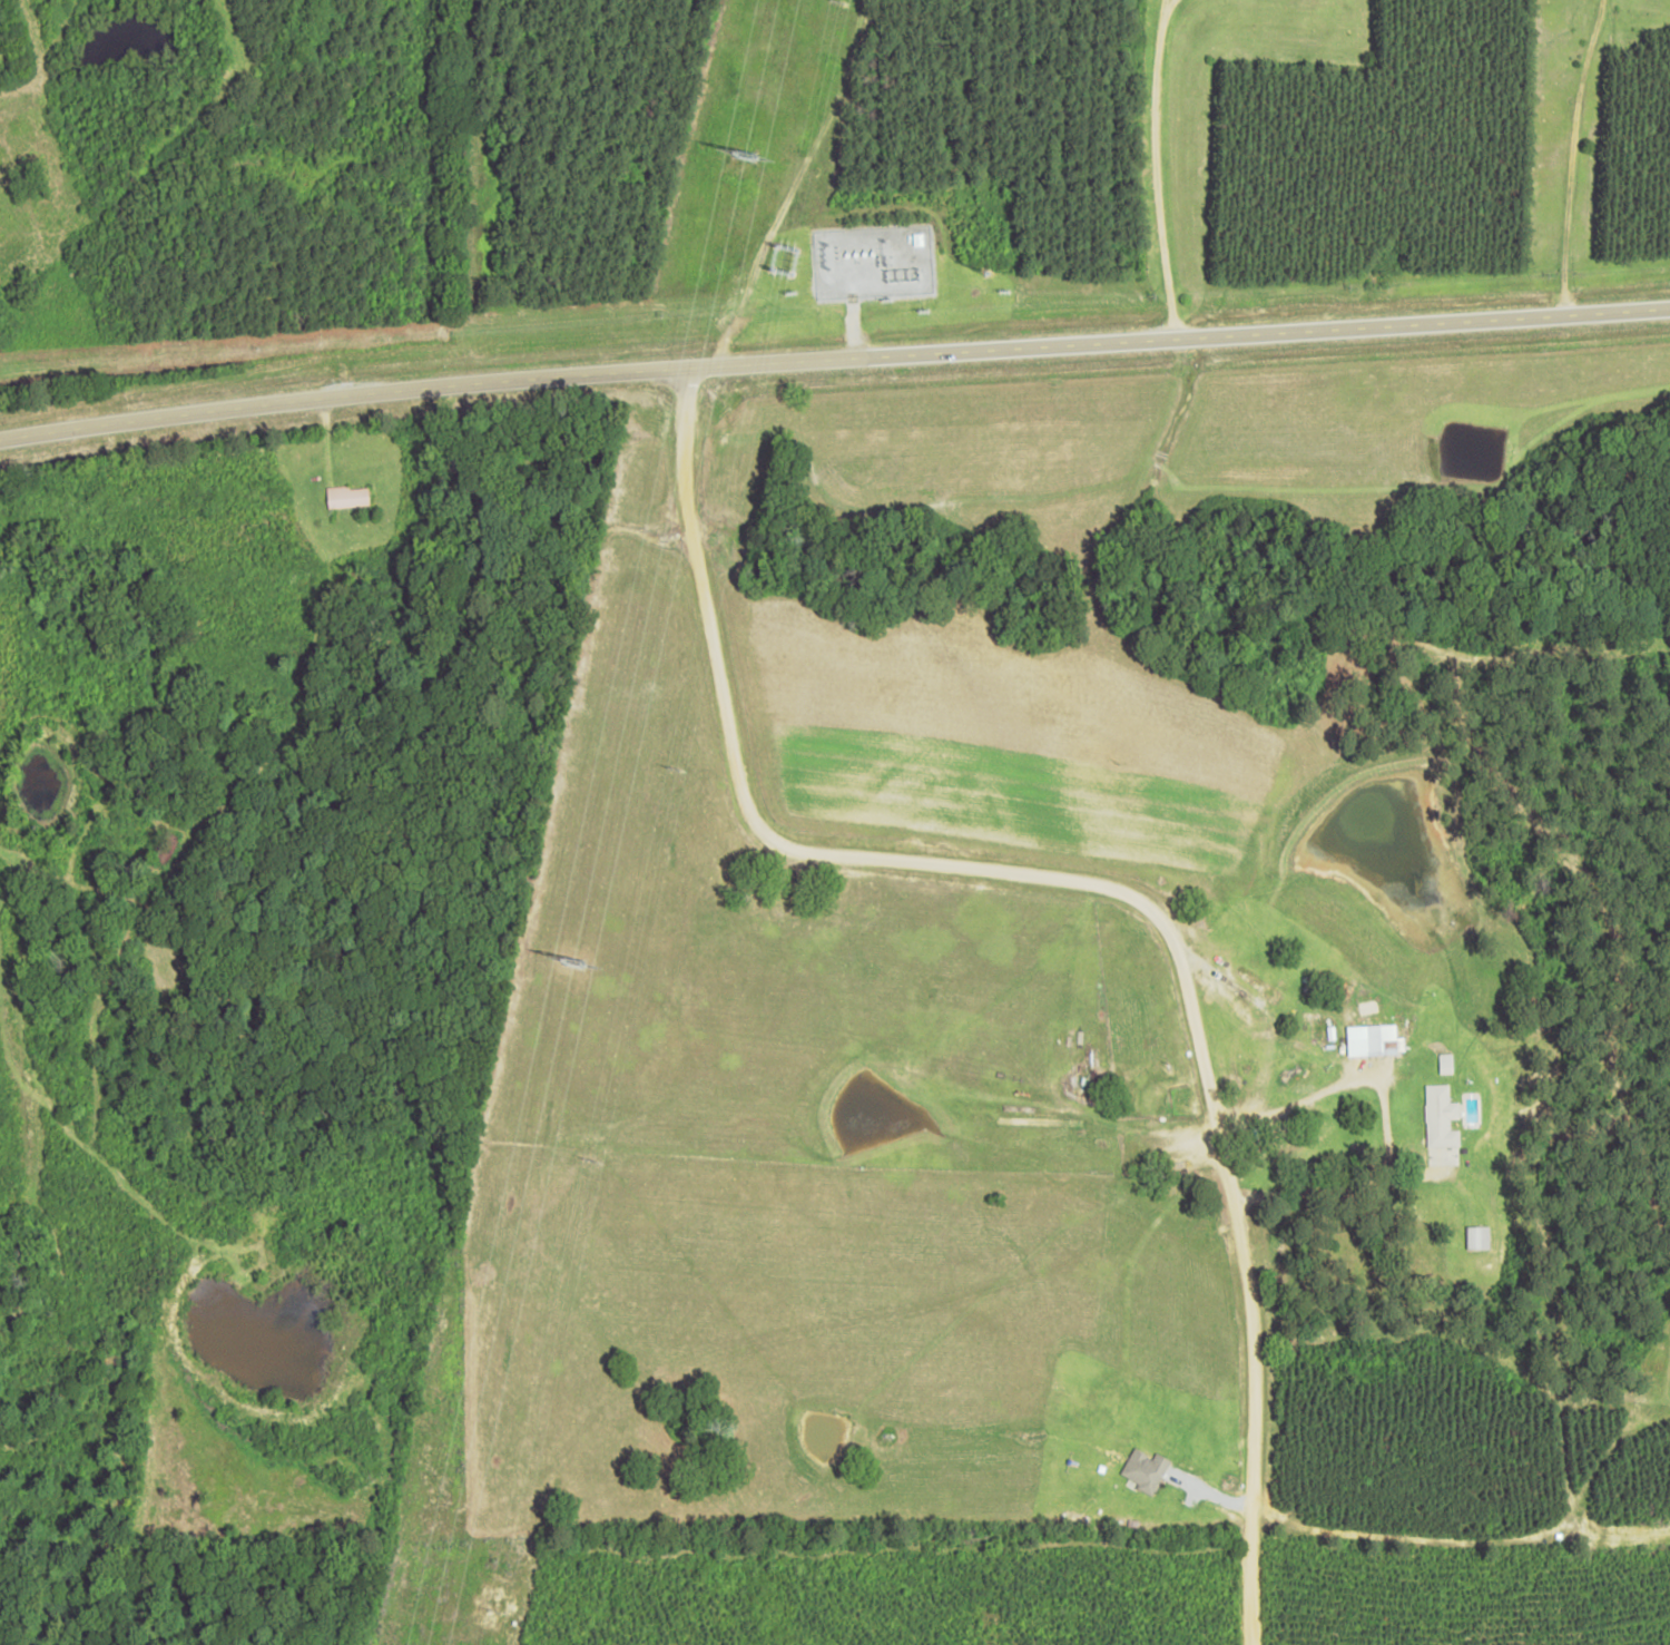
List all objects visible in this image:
power tower: (739, 159)
road: (1162, 168)
power substation: (871, 263)
road: (833, 356)
road: (678, 480)
building: (347, 497)
road: (1171, 953)
power tower: (569, 962)
building: (1374, 1040)
building: (1446, 1064)
building: (1441, 1117)
building: (1479, 1237)
building: (1146, 1469)

